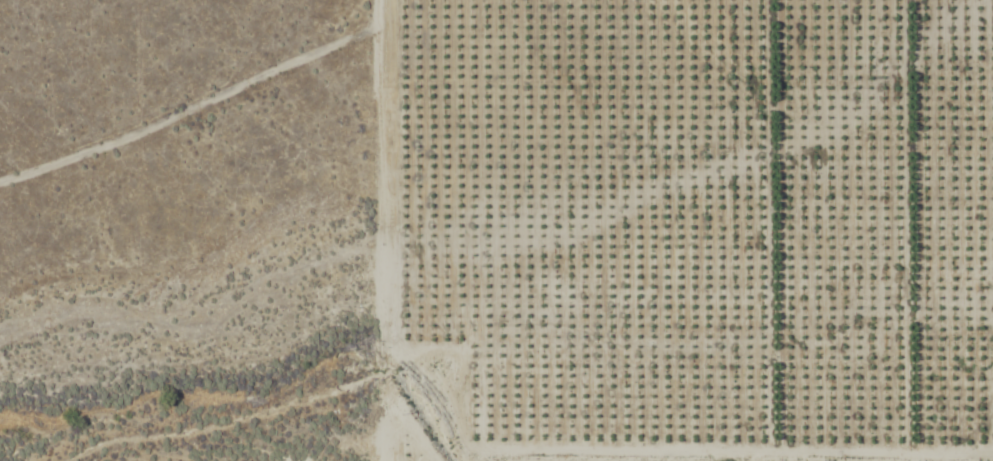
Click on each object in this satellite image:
road: (200, 100)

